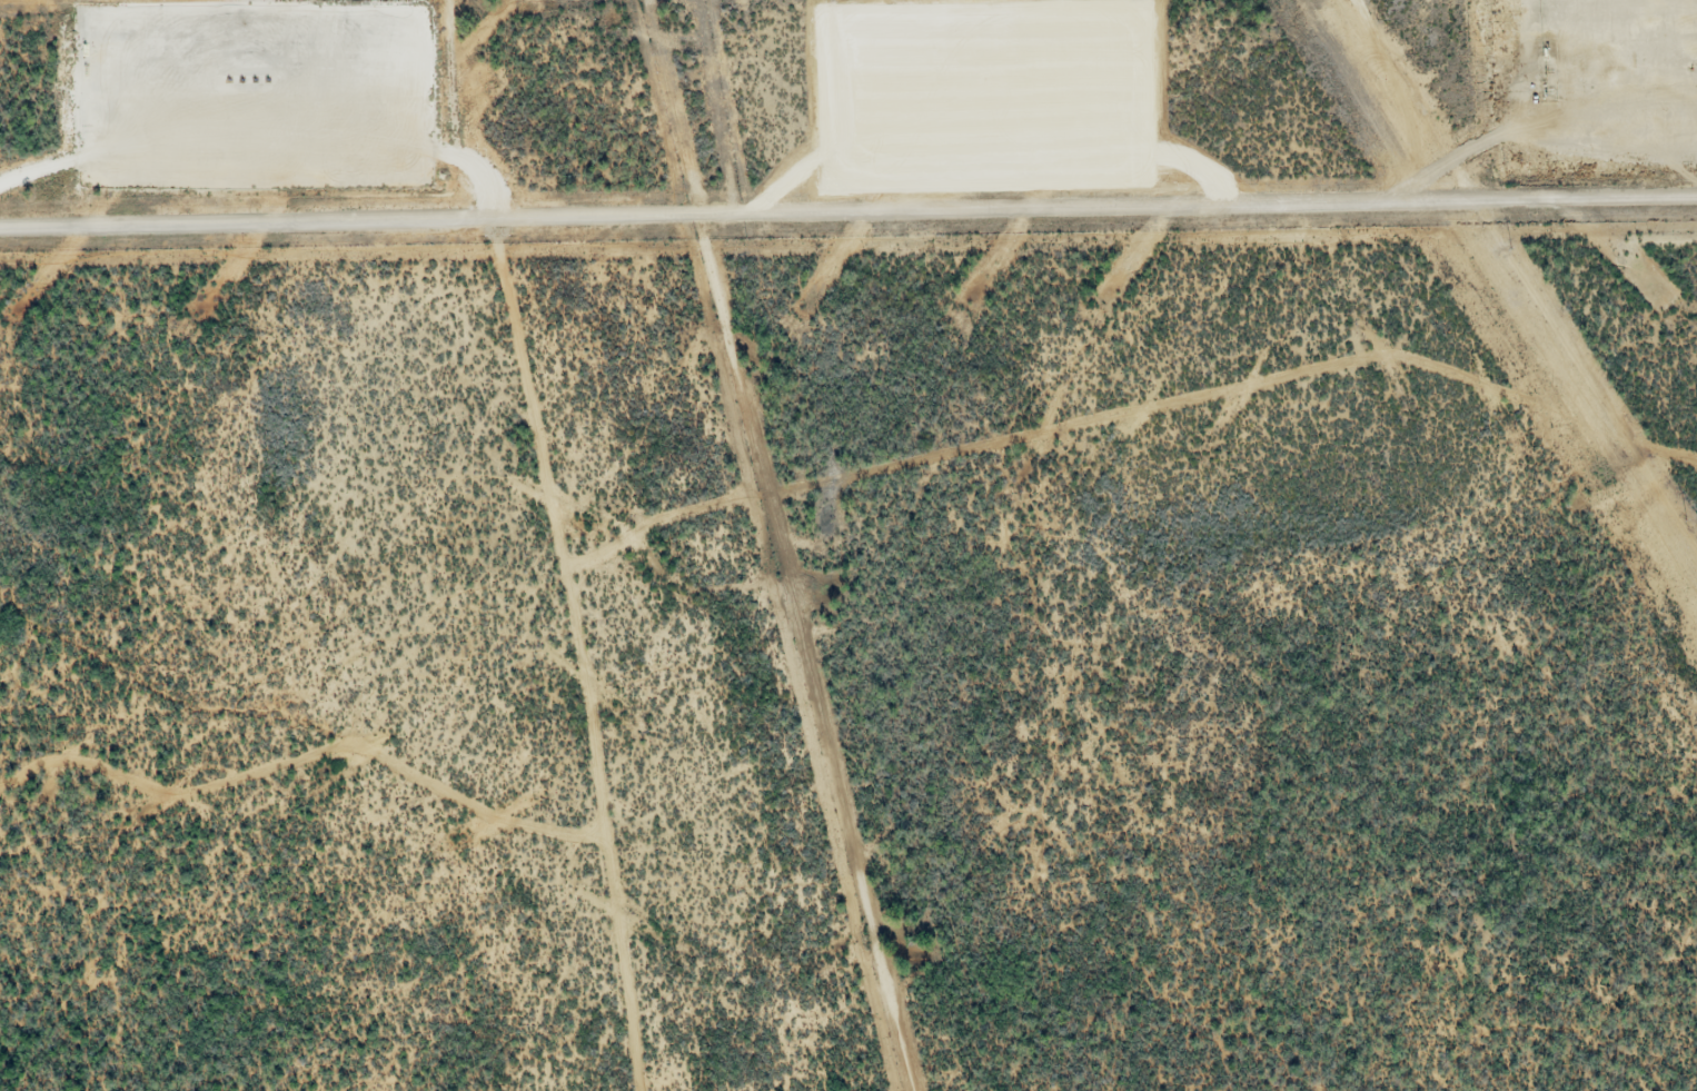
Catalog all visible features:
power tower: (1509, 248)
power tower: (1685, 522)

